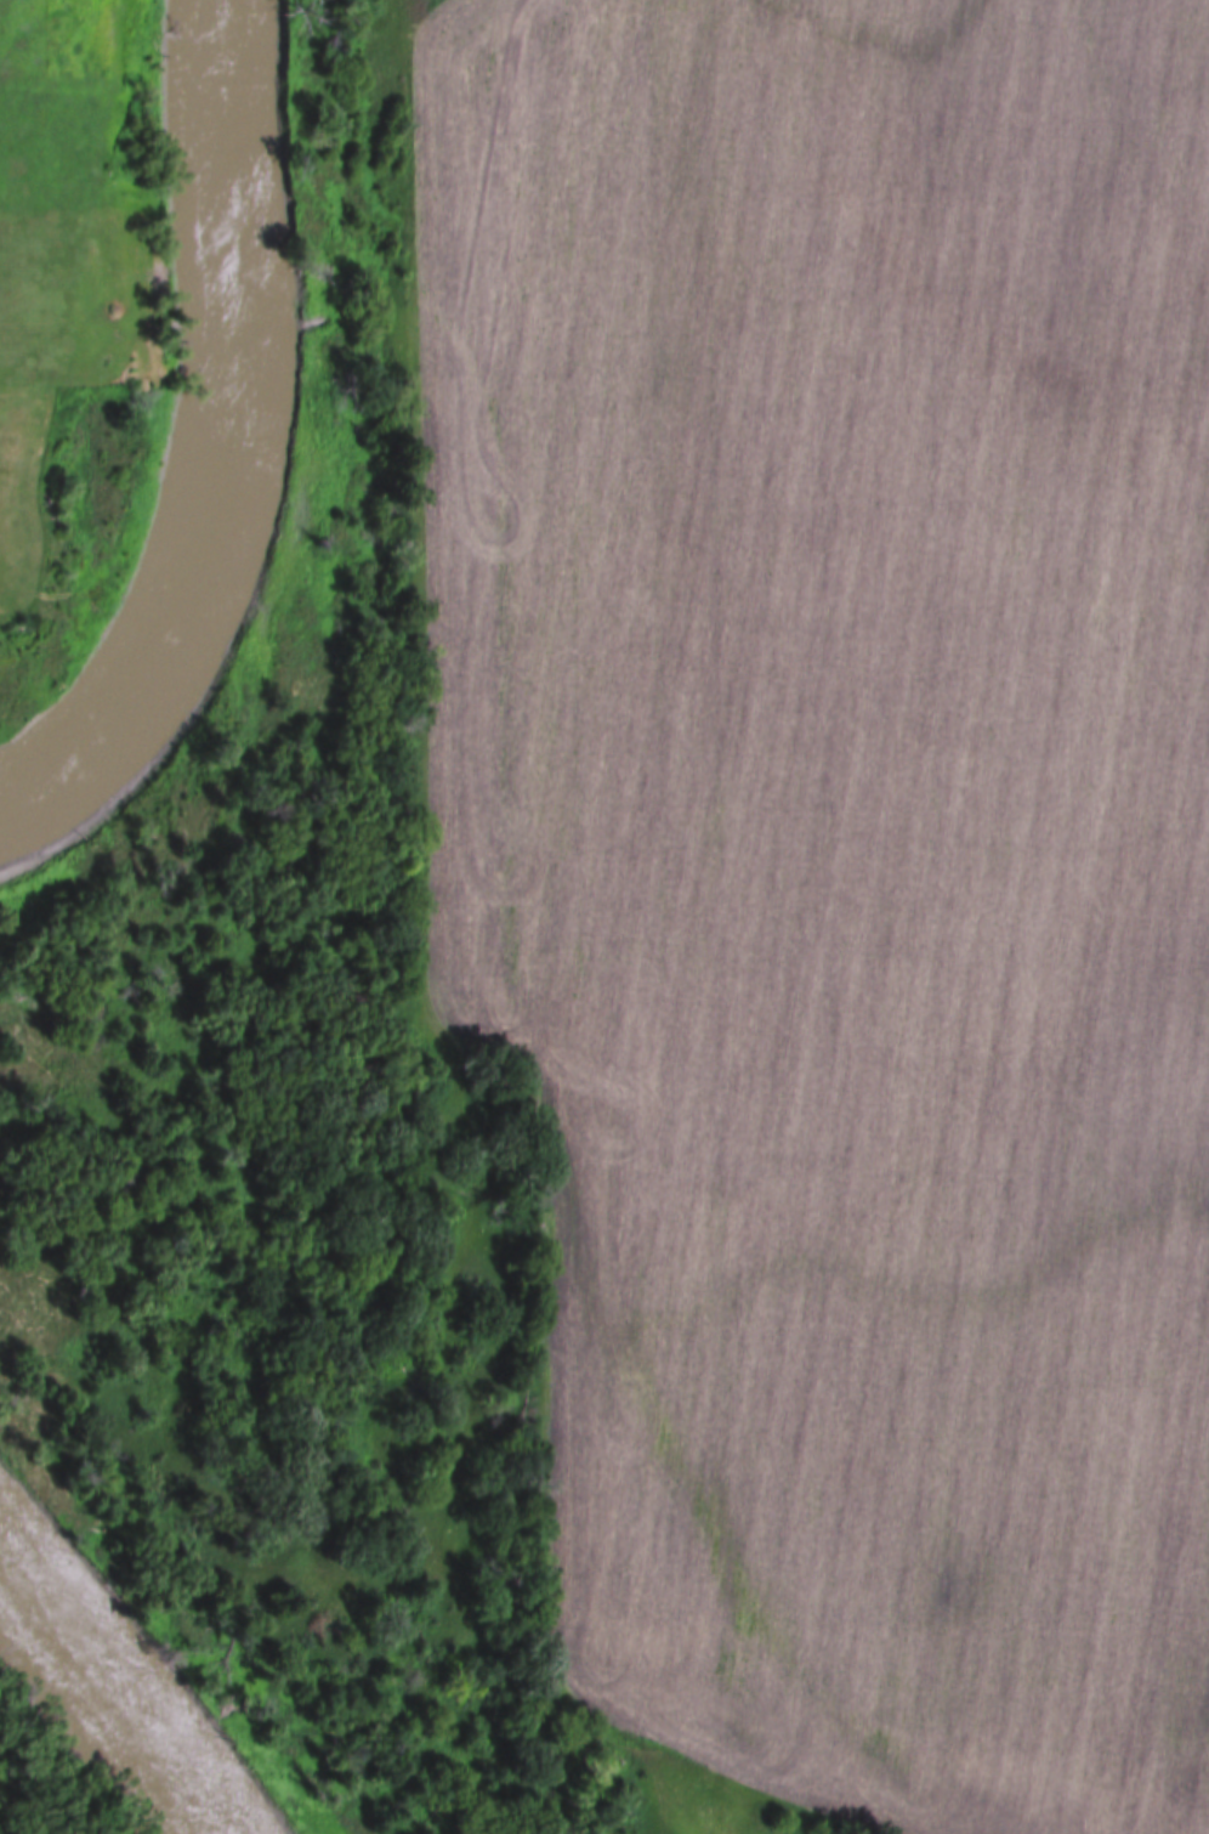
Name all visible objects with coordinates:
river: (251, 469)
crop: (839, 862)
river: (131, 1671)

